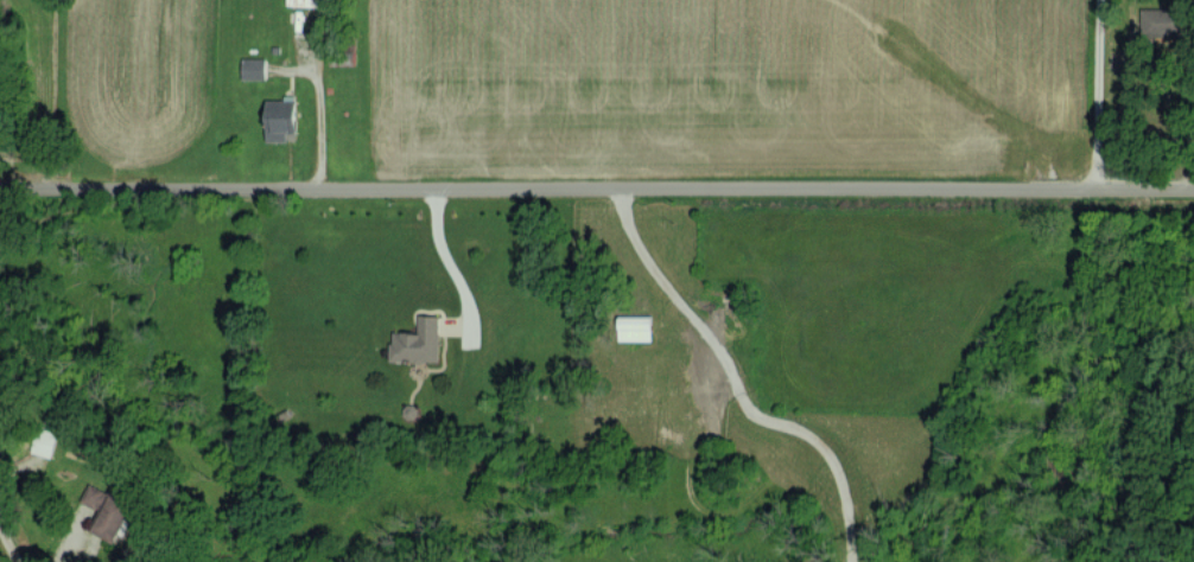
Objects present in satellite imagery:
building: (307, 1)
building: (1158, 21)
building: (253, 66)
road: (1092, 98)
building: (279, 117)
road: (319, 124)
road: (597, 184)
road: (565, 253)
road: (445, 255)
building: (634, 327)
building: (417, 340)
road: (737, 383)
building: (43, 441)
building: (106, 511)
road: (9, 544)

